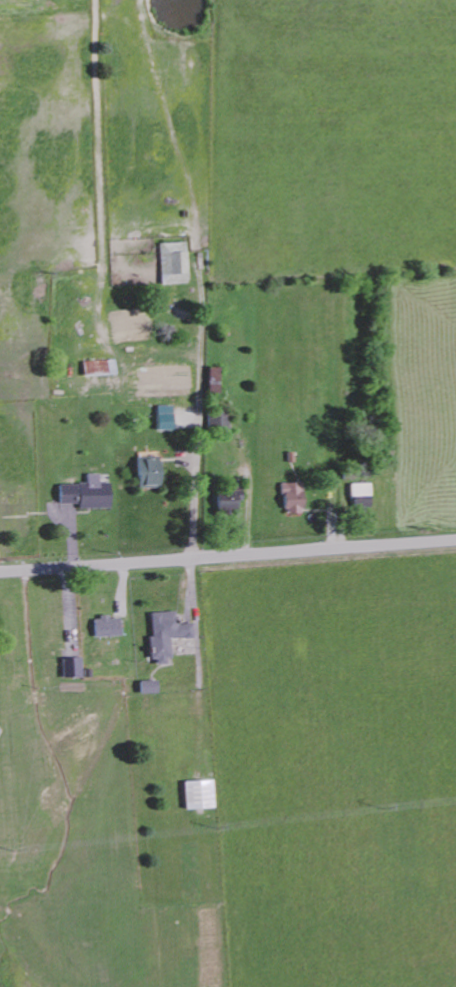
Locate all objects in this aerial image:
building: (173, 262)
building: (99, 367)
building: (212, 379)
road: (195, 416)
building: (163, 417)
building: (218, 421)
building: (147, 471)
building: (86, 493)
building: (292, 497)
building: (229, 498)
road: (228, 556)
building: (105, 626)
building: (164, 634)
building: (71, 667)
building: (147, 686)
building: (197, 794)

